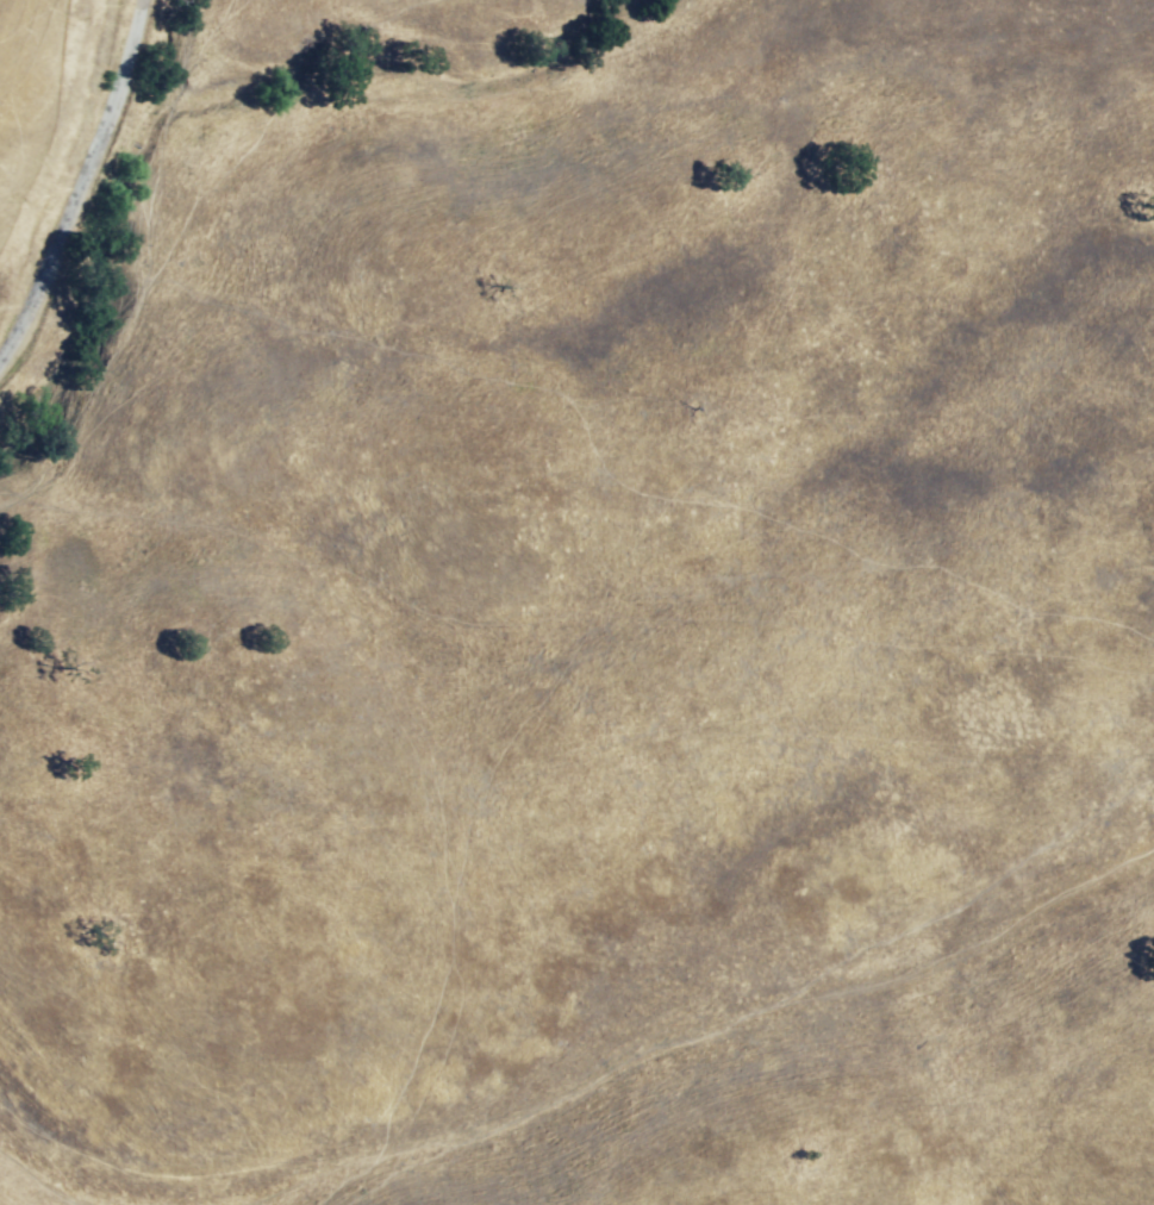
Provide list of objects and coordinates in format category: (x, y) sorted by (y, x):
road: (75, 177)

